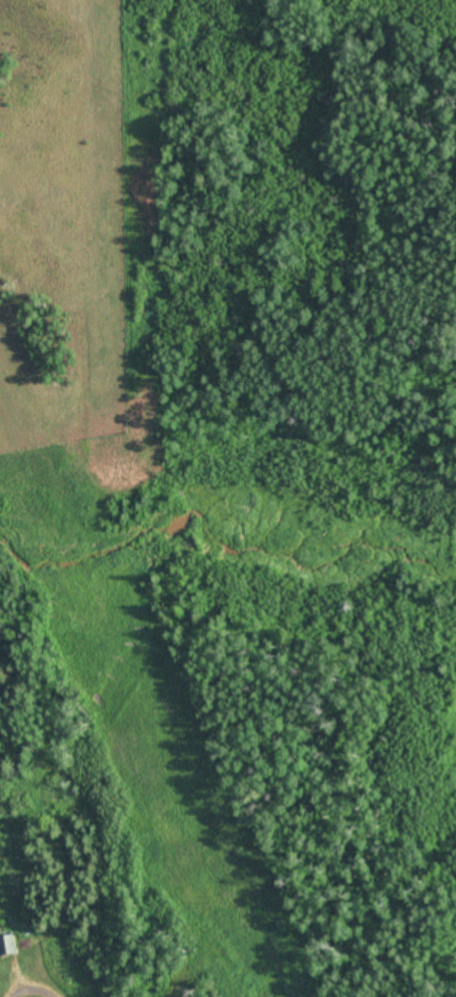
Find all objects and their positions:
building: (7, 945)

